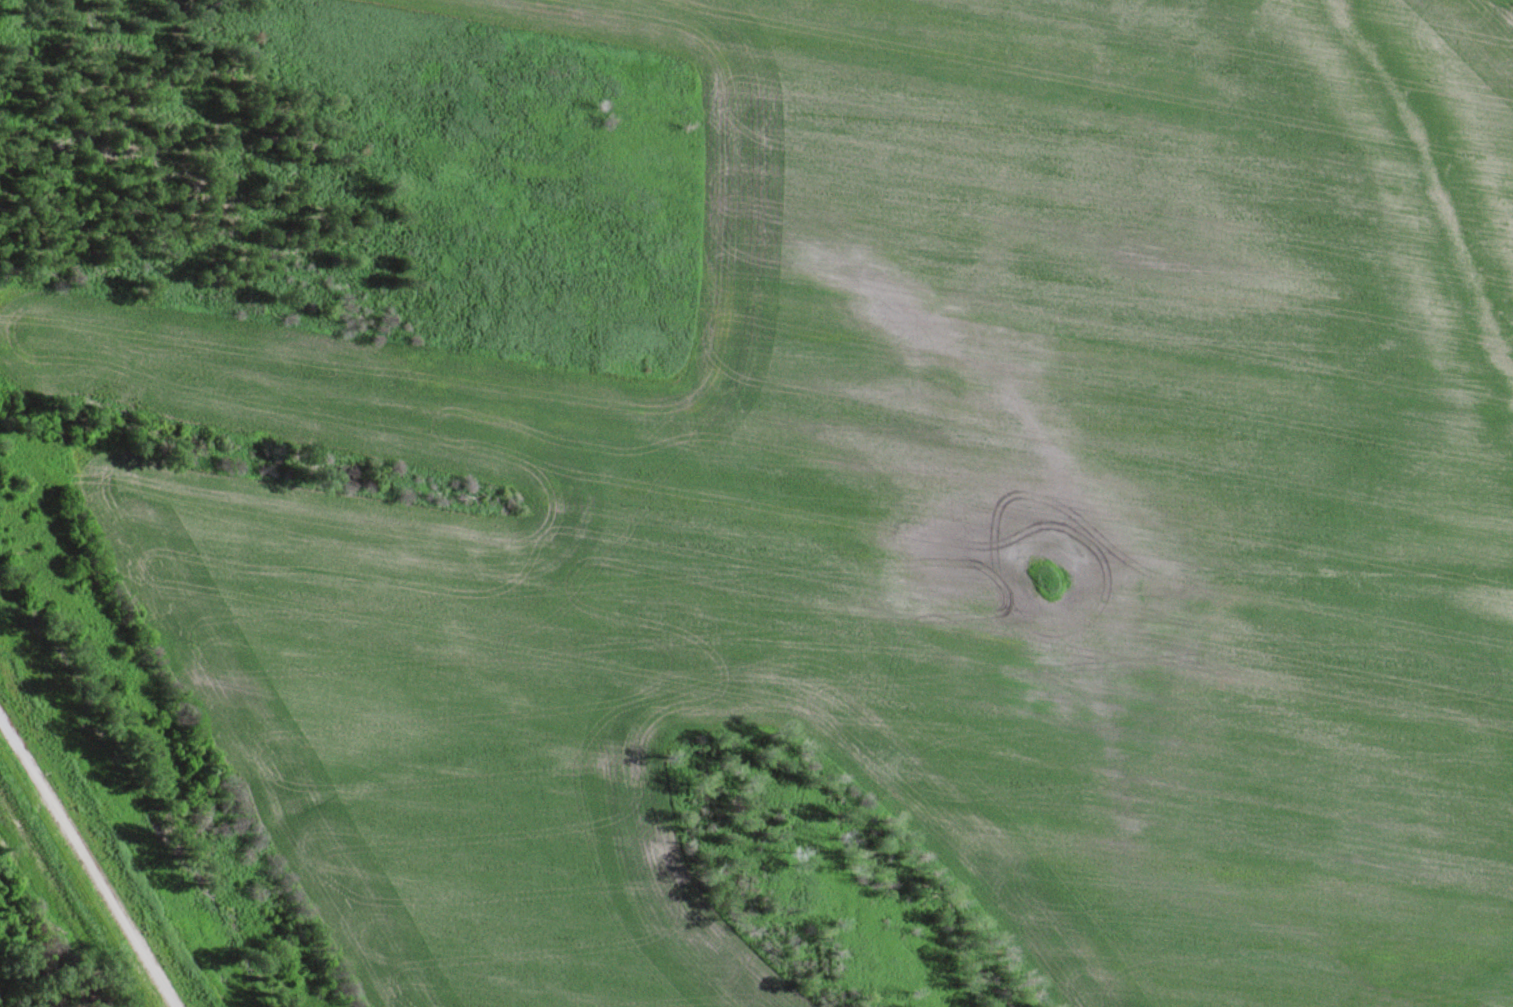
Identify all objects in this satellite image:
road: (86, 864)

